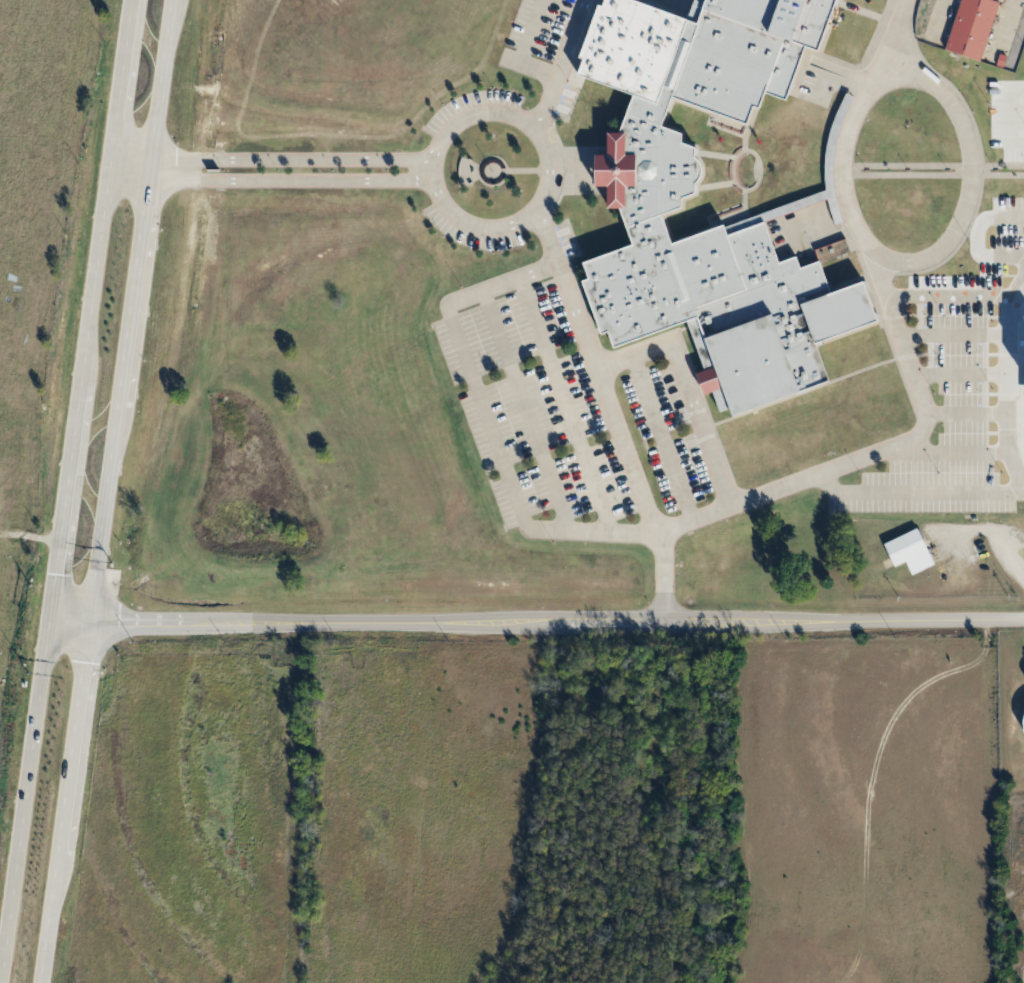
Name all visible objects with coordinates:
building: (971, 27)
road: (521, 48)
road: (559, 66)
road: (288, 156)
road: (127, 164)
road: (548, 165)
road: (970, 170)
road: (288, 179)
building: (644, 208)
road: (1009, 253)
road: (1003, 293)
road: (993, 294)
road: (952, 336)
road: (902, 346)
road: (959, 374)
road: (1004, 381)
road: (685, 388)
road: (964, 410)
road: (611, 411)
road: (486, 421)
road: (945, 449)
road: (63, 472)
road: (917, 489)
road: (105, 491)
road: (990, 531)
building: (909, 550)
road: (533, 620)
traffic signals: (43, 621)
traffic signals: (88, 622)

